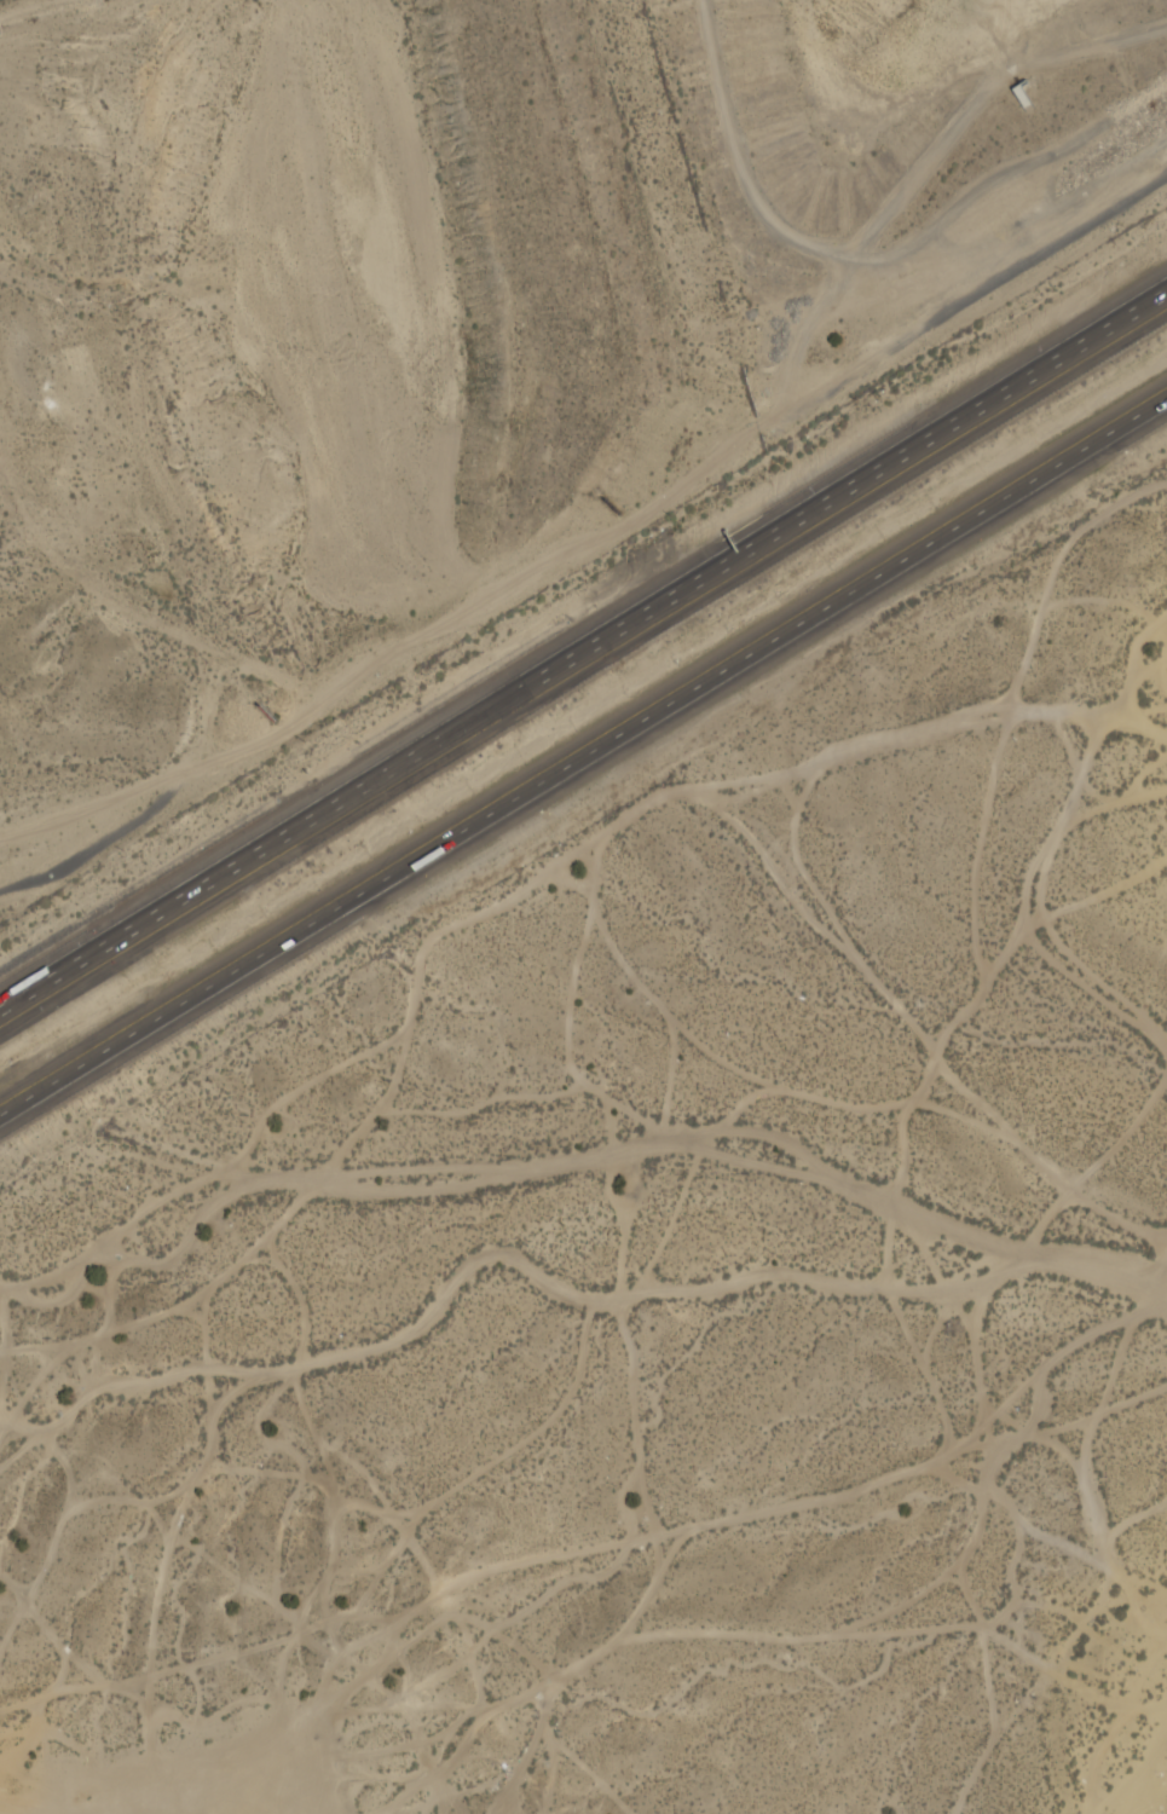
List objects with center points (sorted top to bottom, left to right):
road: (587, 536)
road: (583, 643)
road: (583, 758)

